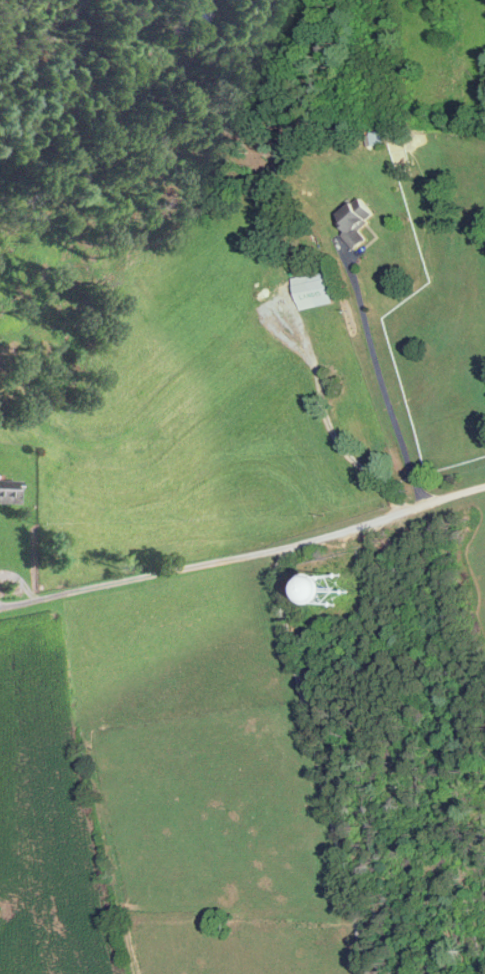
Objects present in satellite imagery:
building: (193, 12)
building: (357, 222)
building: (322, 289)
road: (376, 378)
road: (328, 421)
building: (10, 493)
road: (273, 550)
building: (343, 592)
road: (28, 600)
road: (318, 759)

